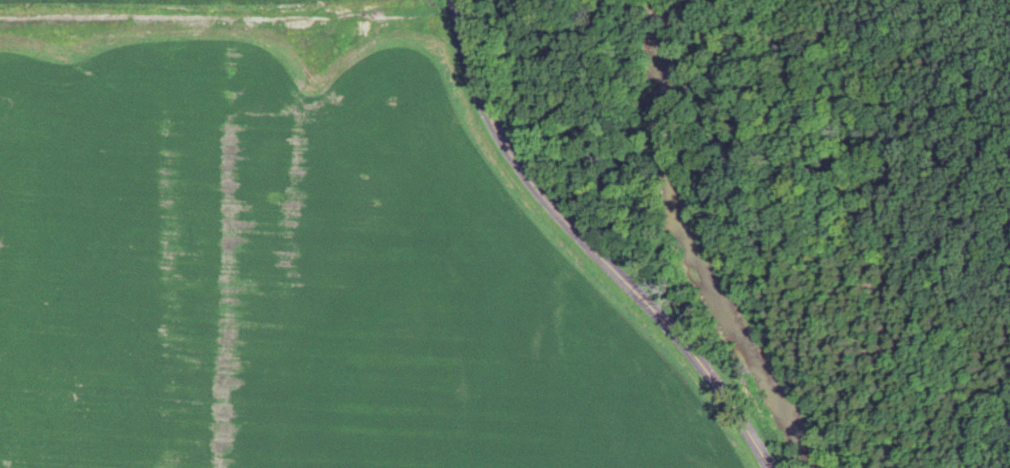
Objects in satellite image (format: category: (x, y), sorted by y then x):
road: (585, 246)

